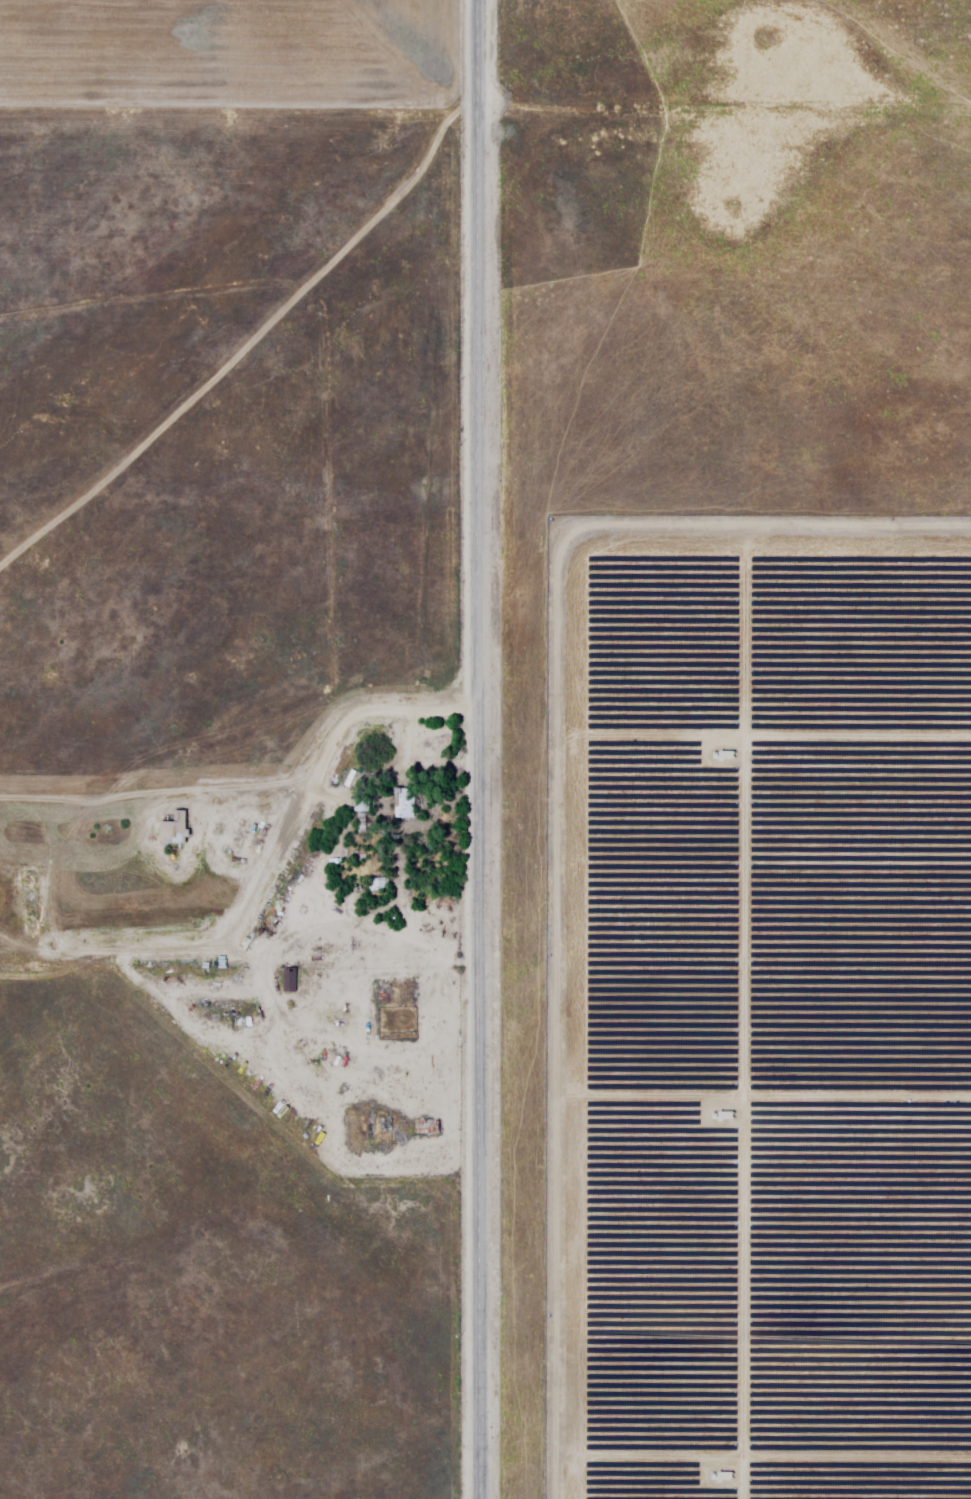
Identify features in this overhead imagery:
road: (727, 42)
road: (479, 749)
solar farm: (741, 749)
road: (144, 790)
building: (404, 804)
building: (176, 828)
road: (269, 877)
building: (375, 885)
road: (414, 925)
building: (291, 979)
building: (427, 1127)
building: (395, 1129)

